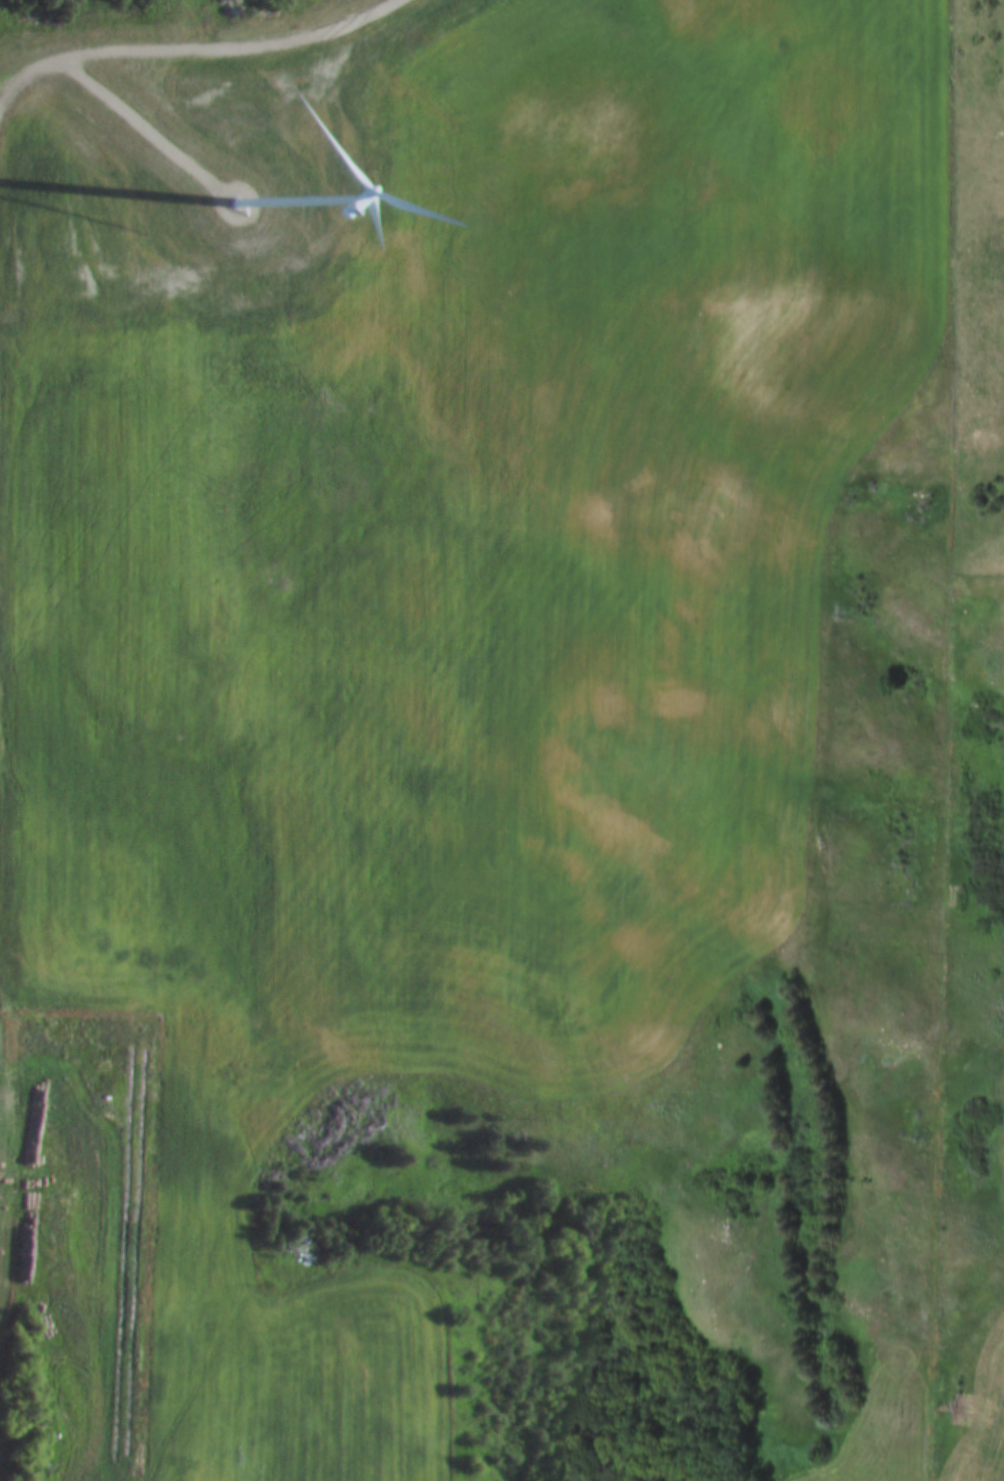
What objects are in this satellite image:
wind turbine: (236, 203)

